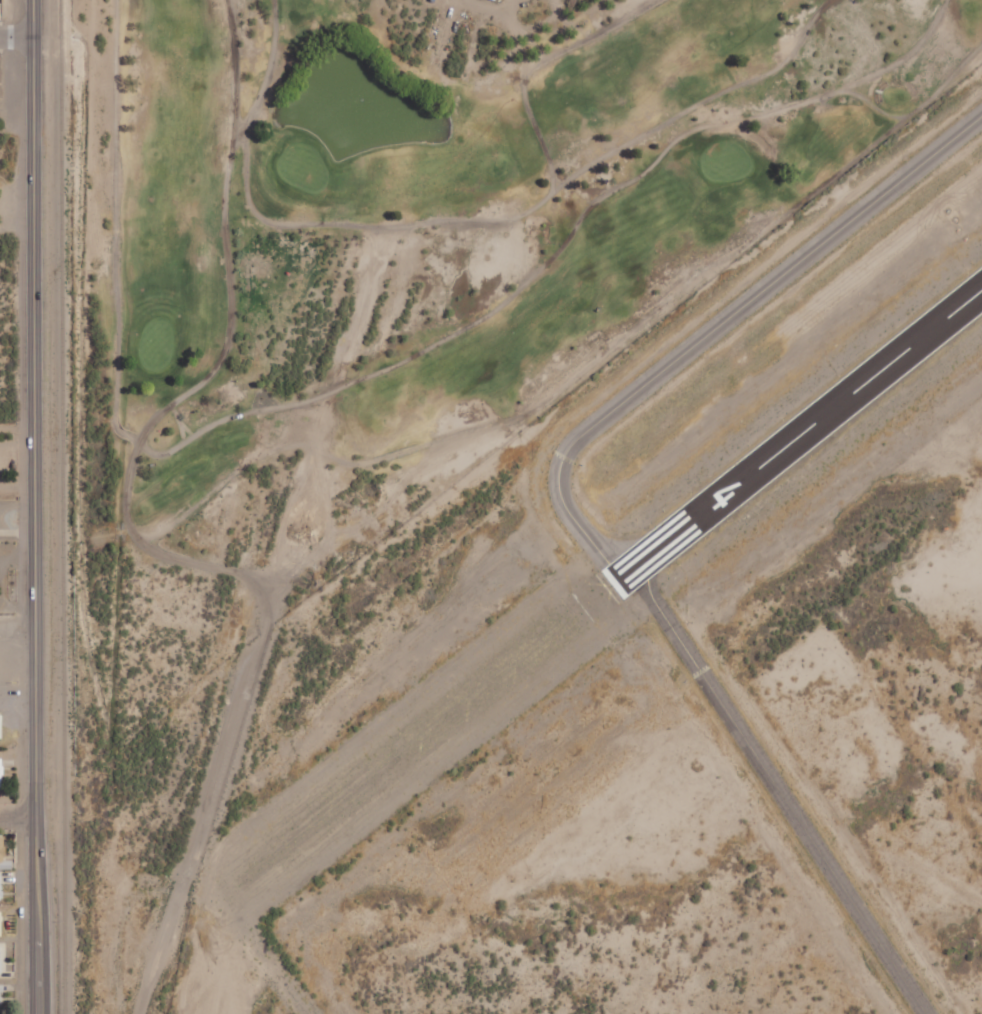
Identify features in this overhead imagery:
road: (16, 31)
park: (428, 214)
airport runway: (800, 433)
road: (33, 507)
railway: (61, 507)
airport taxiway: (577, 516)
road: (16, 631)
building: (1, 726)
building: (1, 773)
road: (17, 817)
building: (4, 855)
building: (1, 887)
building: (1, 923)
building: (1, 960)
building: (1, 996)

